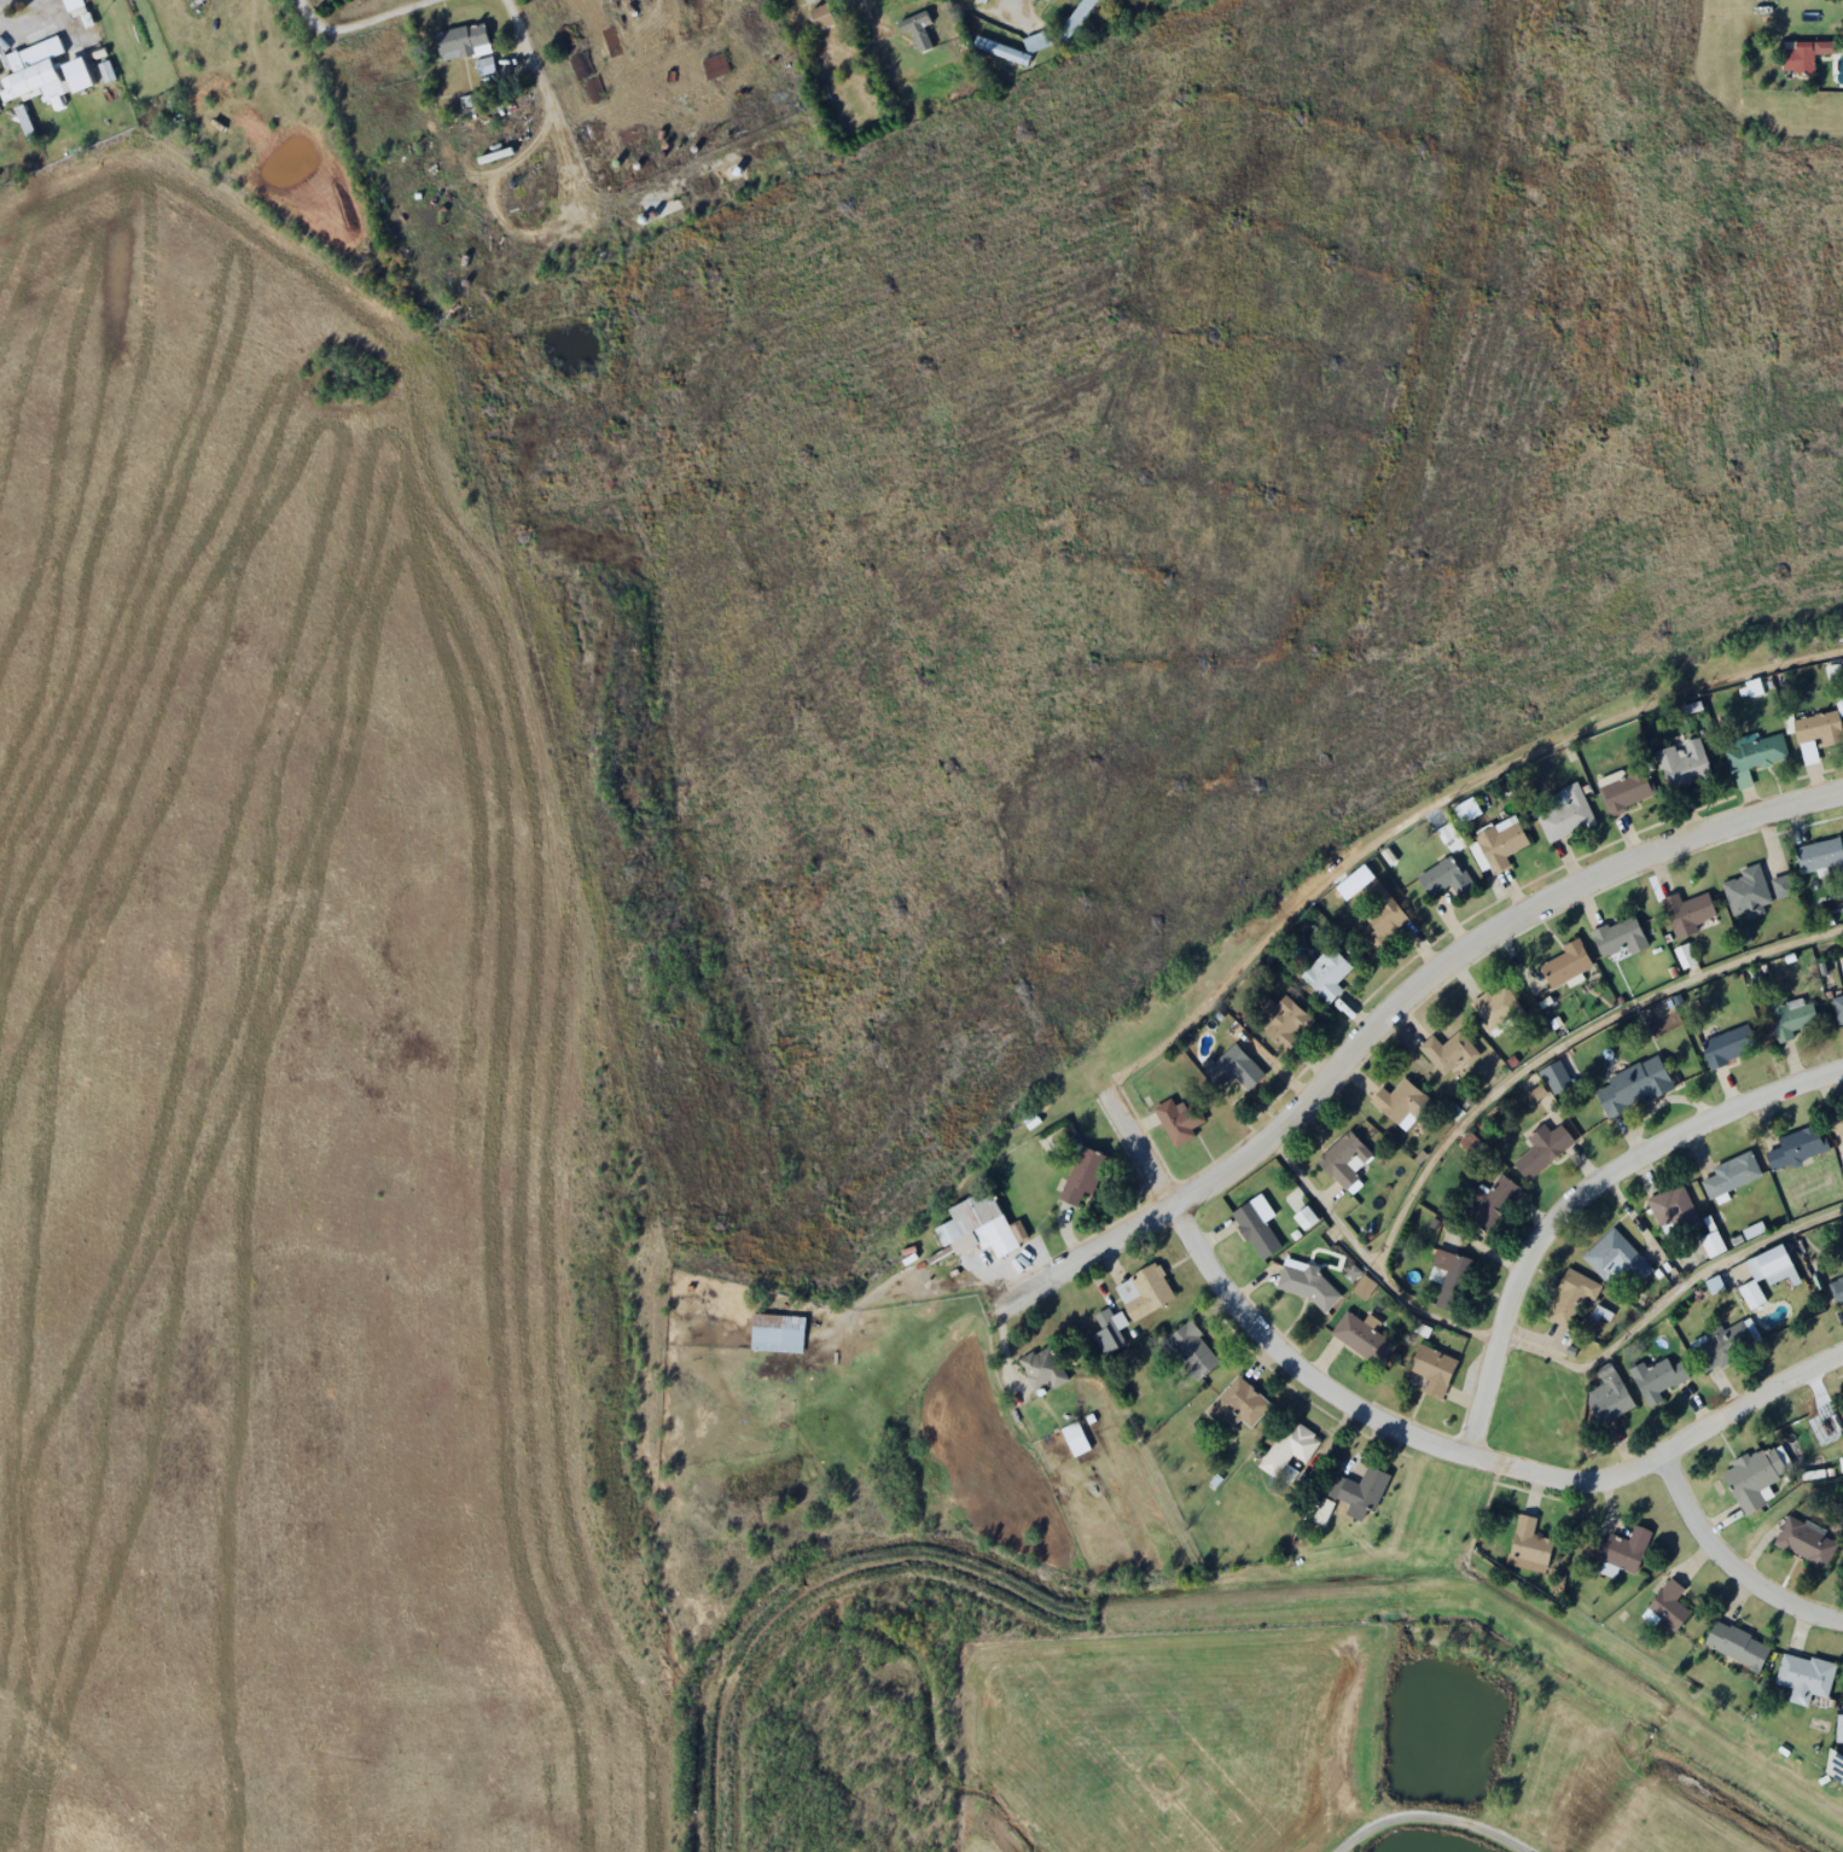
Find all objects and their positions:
building: (888, 0)
building: (982, 0)
building: (1046, 0)
building: (808, 1)
road: (1019, 6)
road: (860, 10)
building: (819, 18)
road: (353, 21)
building: (1074, 21)
building: (915, 30)
building: (466, 41)
building: (1035, 42)
building: (1000, 52)
road: (522, 56)
building: (489, 66)
building: (585, 66)
building: (35, 74)
building: (964, 89)
building: (1816, 732)
building: (1754, 756)
building: (1682, 762)
building: (1623, 788)
road: (1429, 797)
building: (1466, 809)
building: (1564, 813)
building: (1499, 841)
building: (1819, 854)
building: (1443, 877)
building: (1780, 886)
building: (1745, 891)
building: (1685, 913)
building: (1378, 918)
building: (1618, 938)
building: (1563, 963)
building: (1325, 973)
road: (1399, 995)
building: (1495, 1006)
building: (1837, 1007)
building: (1790, 1018)
building: (1280, 1019)
road: (1563, 1043)
building: (1727, 1044)
building: (1447, 1052)
building: (1231, 1067)
building: (1630, 1085)
building: (1400, 1101)
building: (1178, 1120)
building: (1839, 1125)
building: (1795, 1147)
building: (1541, 1148)
building: (1343, 1159)
building: (1842, 1166)
building: (1731, 1173)
building: (1081, 1175)
road: (1581, 1189)
building: (1488, 1202)
building: (1672, 1207)
building: (1304, 1218)
building: (977, 1225)
building: (1255, 1225)
road: (1643, 1229)
building: (1615, 1258)
building: (1450, 1279)
building: (1306, 1285)
building: (1836, 1289)
building: (1146, 1292)
building: (1750, 1294)
building: (1569, 1298)
building: (775, 1333)
building: (1359, 1336)
building: (1109, 1338)
building: (1723, 1344)
building: (1191, 1350)
road: (1534, 1352)
building: (1041, 1367)
building: (1431, 1369)
building: (1656, 1379)
building: (1607, 1398)
building: (1237, 1404)
road: (1411, 1434)
building: (1075, 1439)
building: (1287, 1451)
building: (1752, 1475)
building: (1359, 1490)
road: (1777, 1507)
building: (1321, 1513)
building: (1804, 1543)
building: (1527, 1547)
building: (1622, 1551)
road: (1728, 1562)
building: (1667, 1606)
building: (1736, 1646)
building: (1803, 1677)
building: (1833, 1767)
road: (1431, 1807)

